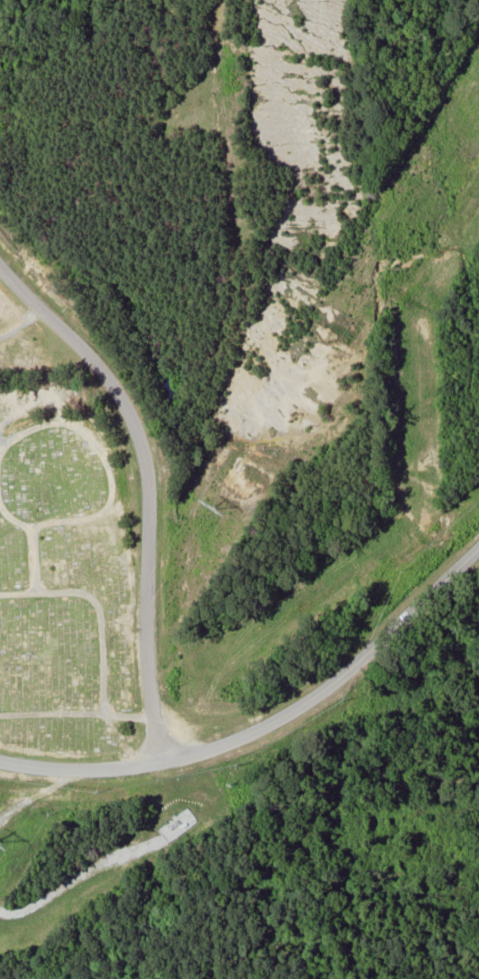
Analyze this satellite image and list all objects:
road: (151, 483)
power tower: (219, 507)
road: (267, 723)
power tower: (2, 841)

